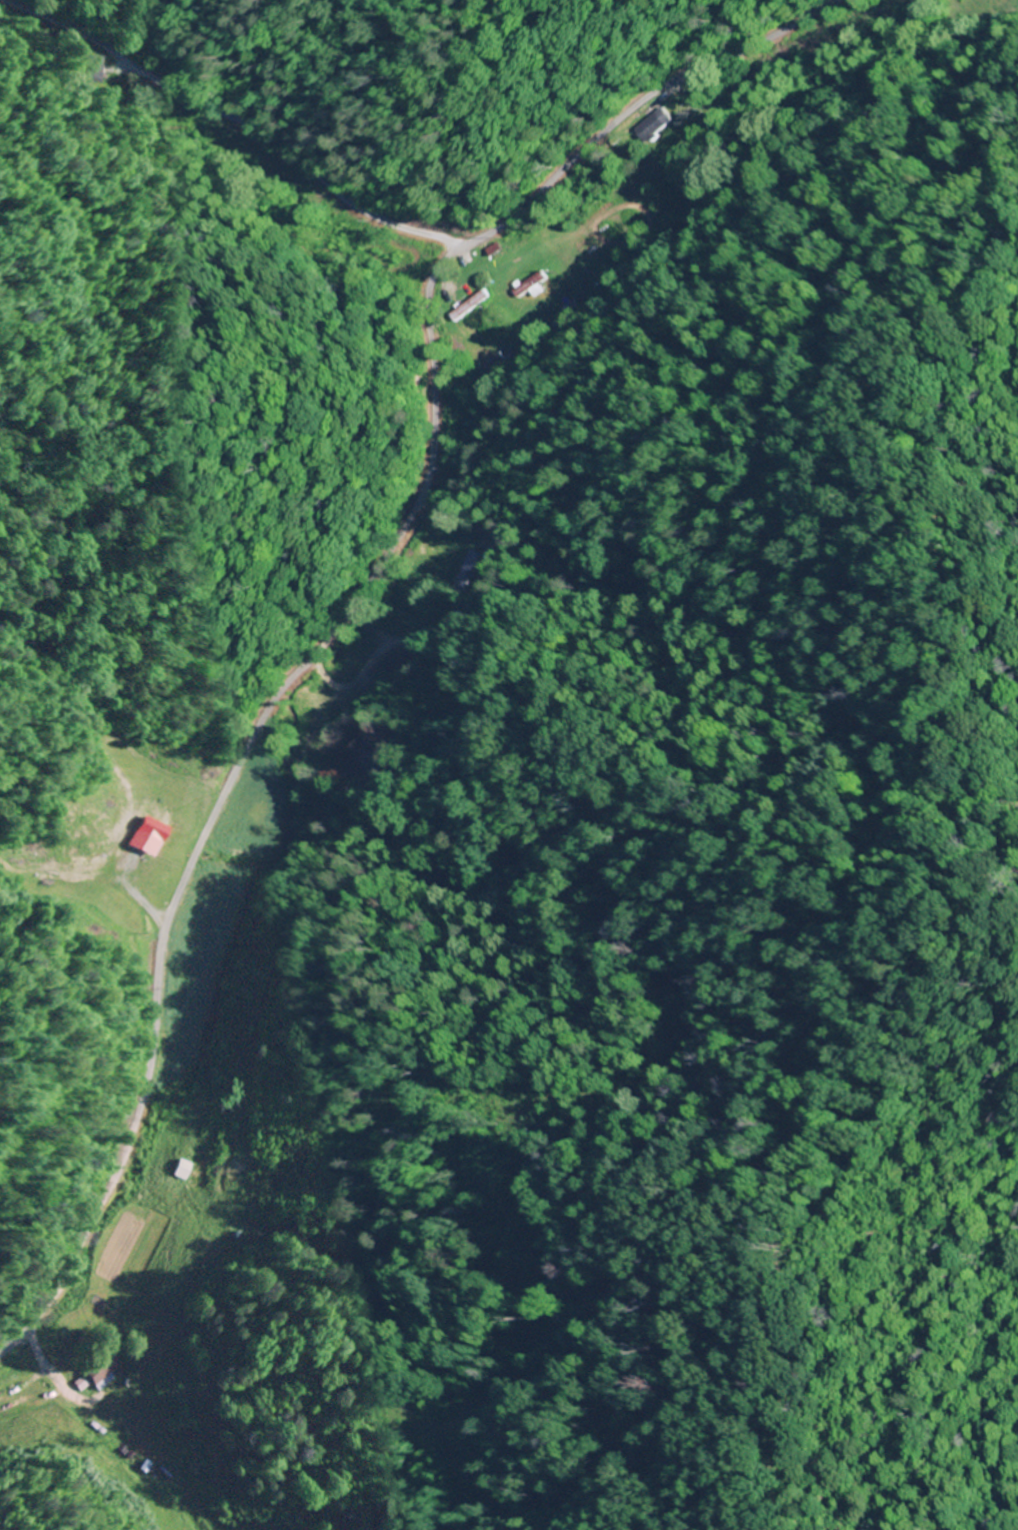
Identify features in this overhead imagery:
building: (658, 123)
building: (532, 286)
building: (469, 306)
building: (566, 309)
building: (462, 571)
road: (352, 605)
building: (361, 755)
building: (144, 844)
building: (186, 1170)
building: (106, 1370)

